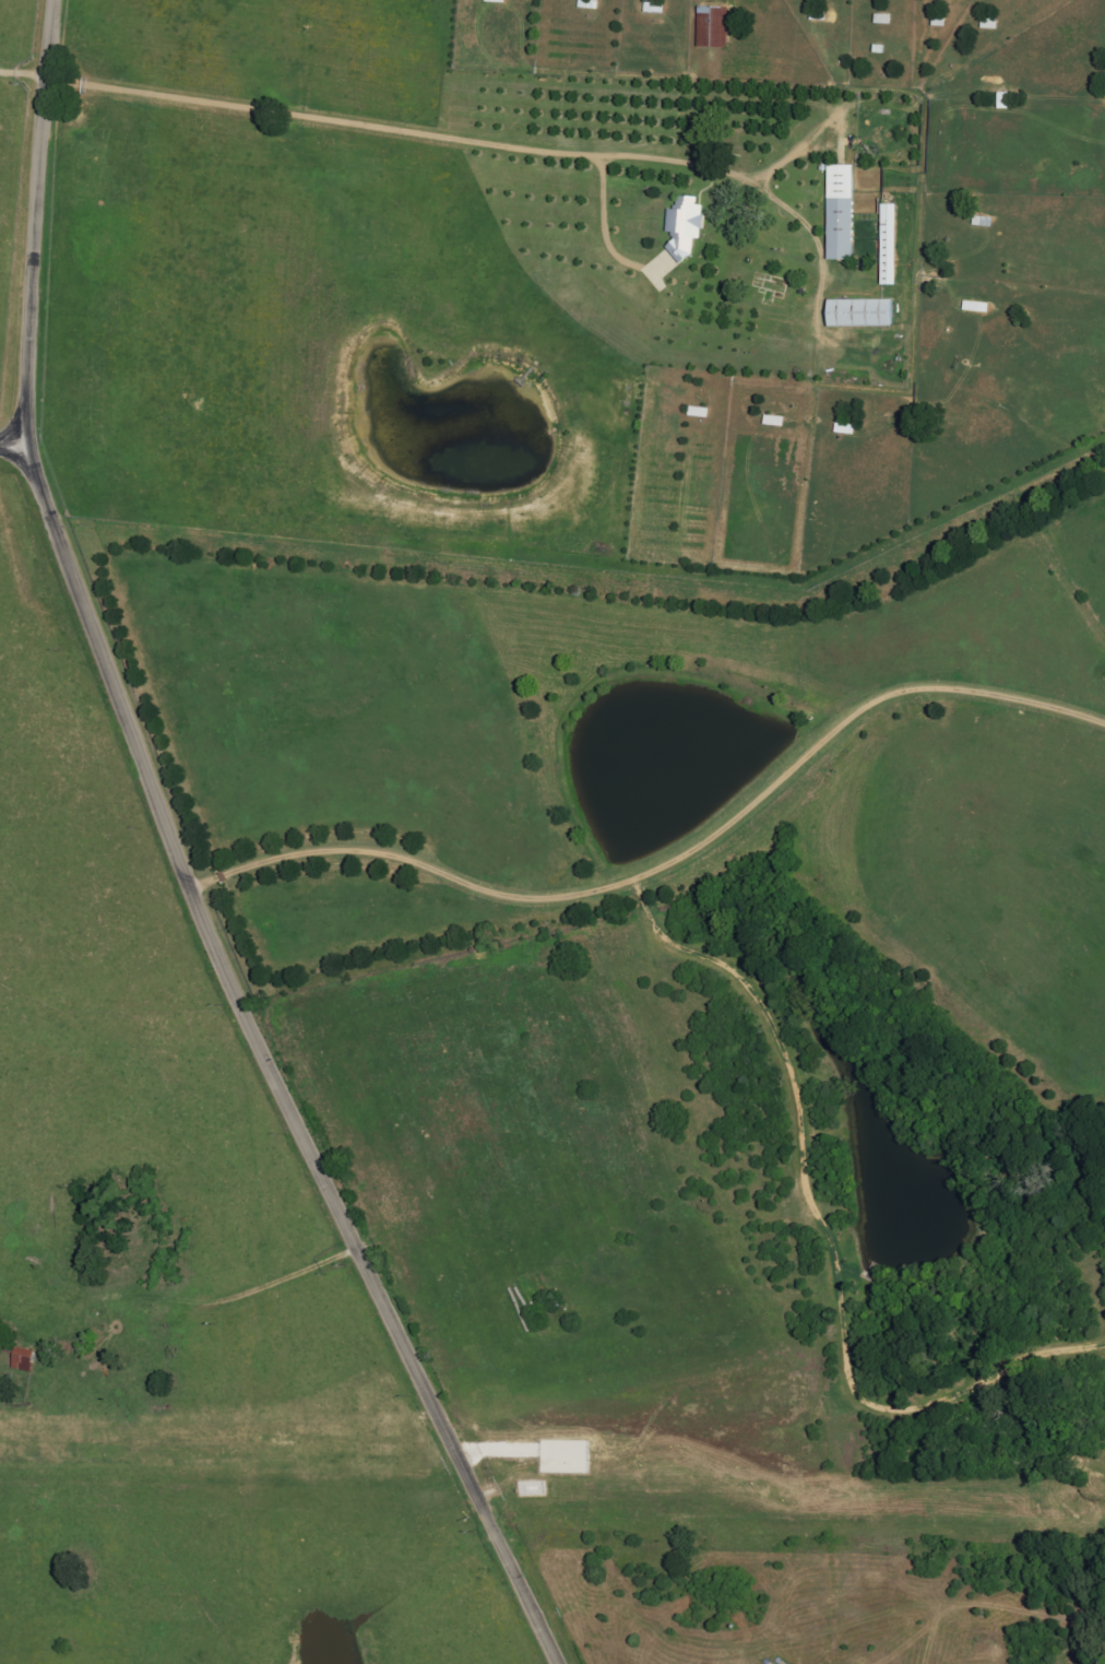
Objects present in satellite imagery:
building: (712, 27)
building: (841, 213)
building: (685, 227)
building: (889, 245)
building: (860, 314)
building: (699, 412)
building: (845, 429)
road: (14, 447)
road: (179, 860)
building: (23, 1360)

